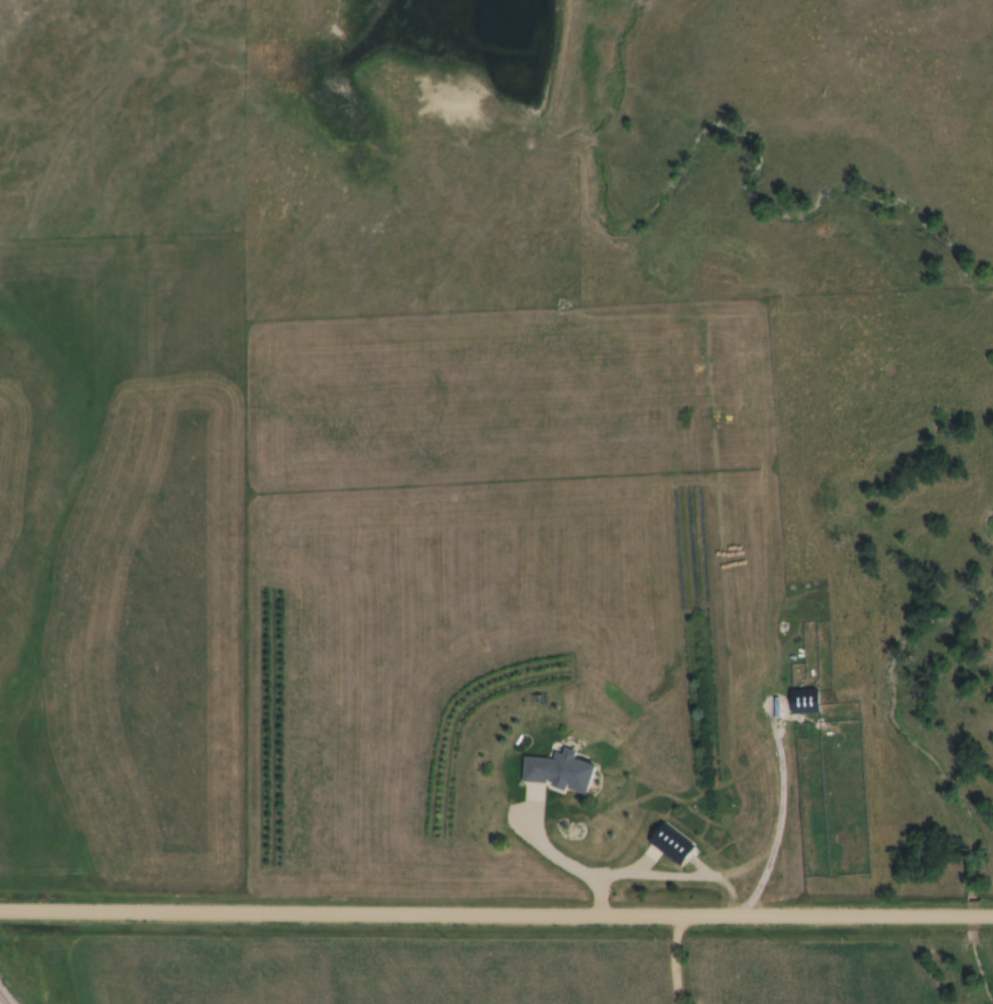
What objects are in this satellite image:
building: (555, 773)
building: (668, 846)
road: (436, 914)
road: (932, 917)
railway: (1, 1002)

